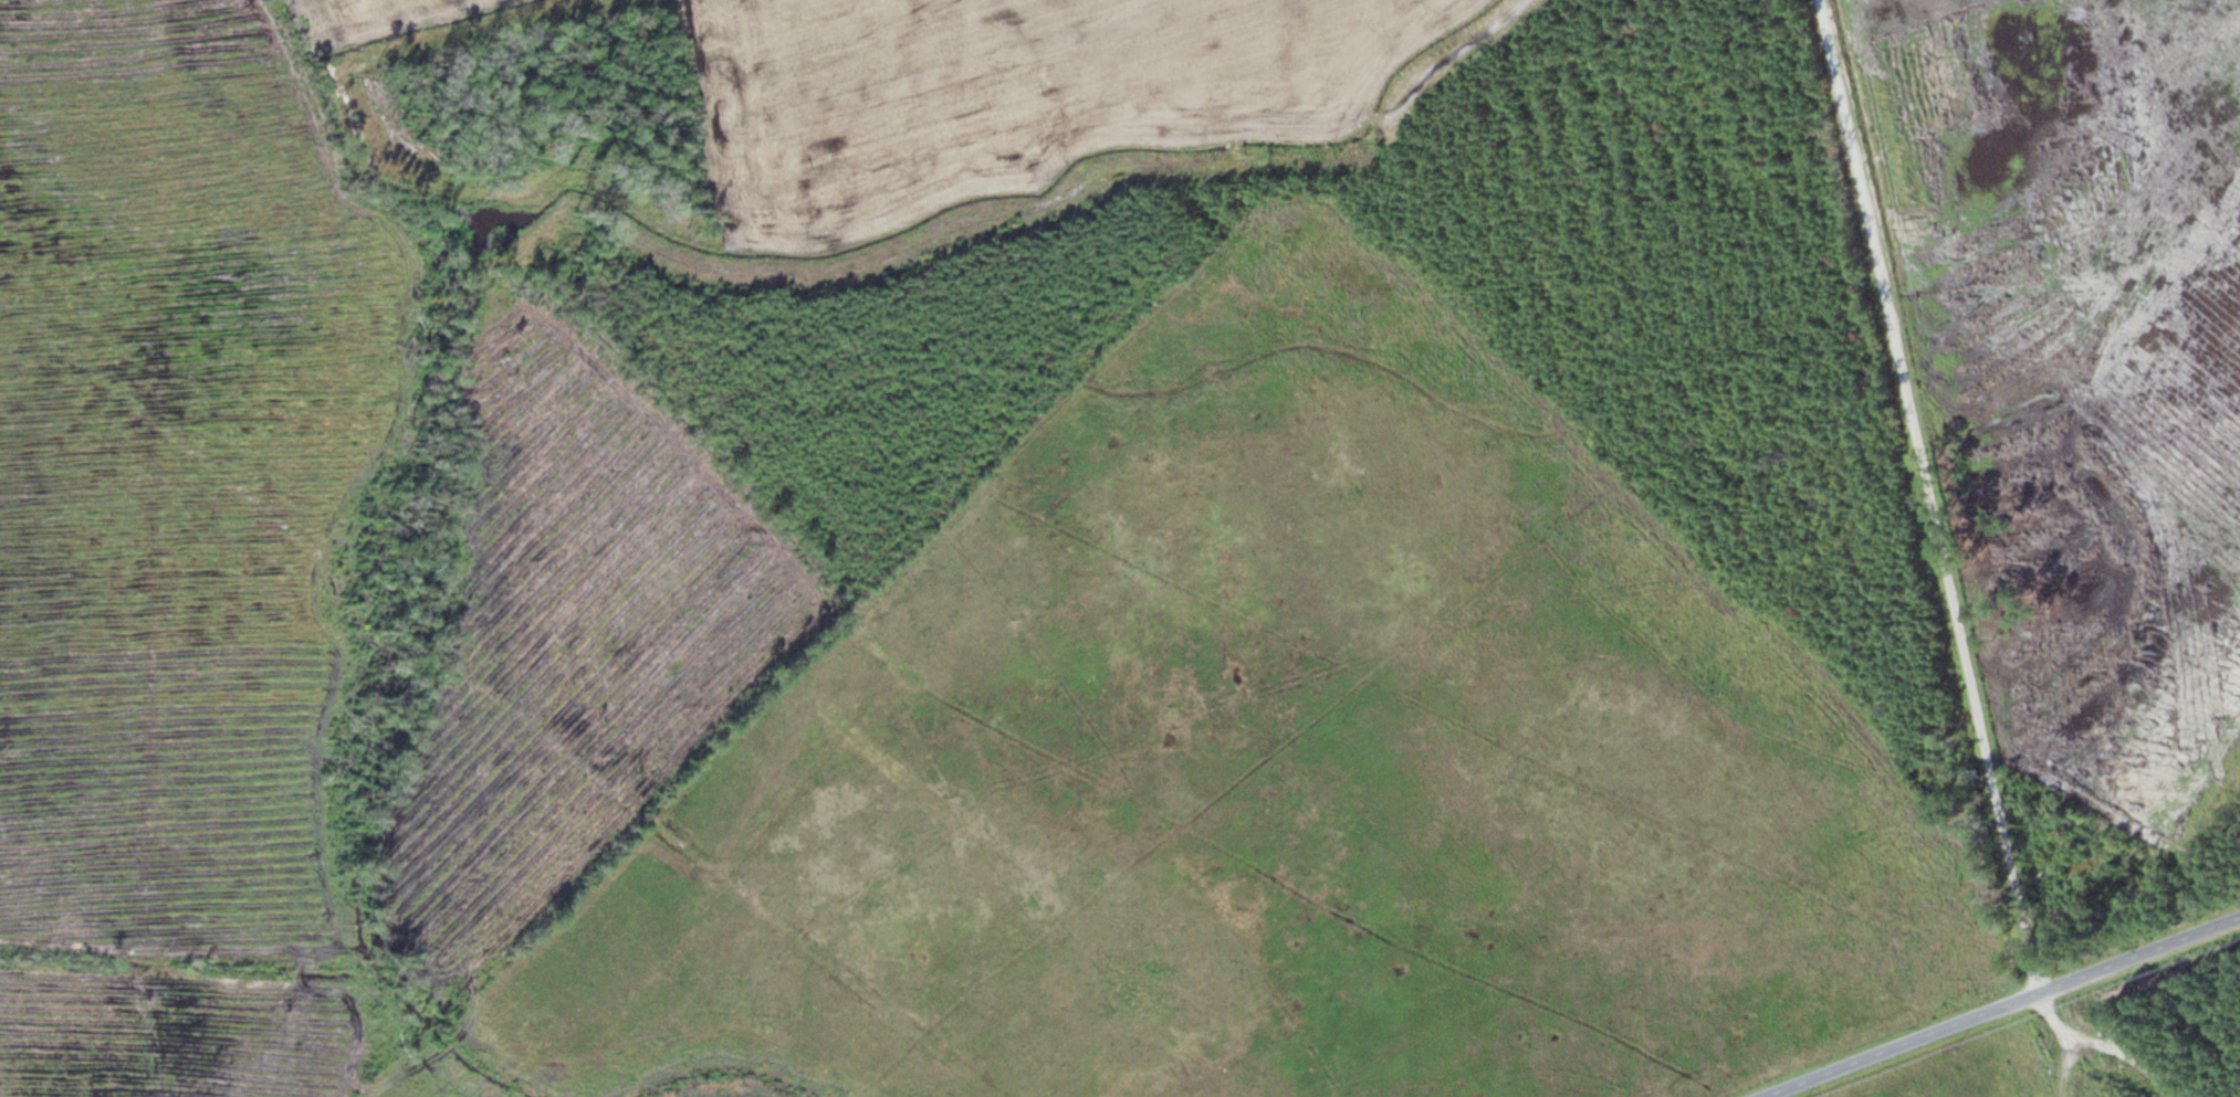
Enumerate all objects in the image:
road: (1928, 495)
road: (1998, 1005)
road: (2055, 1022)
road: (2126, 1059)
road: (2071, 1074)

